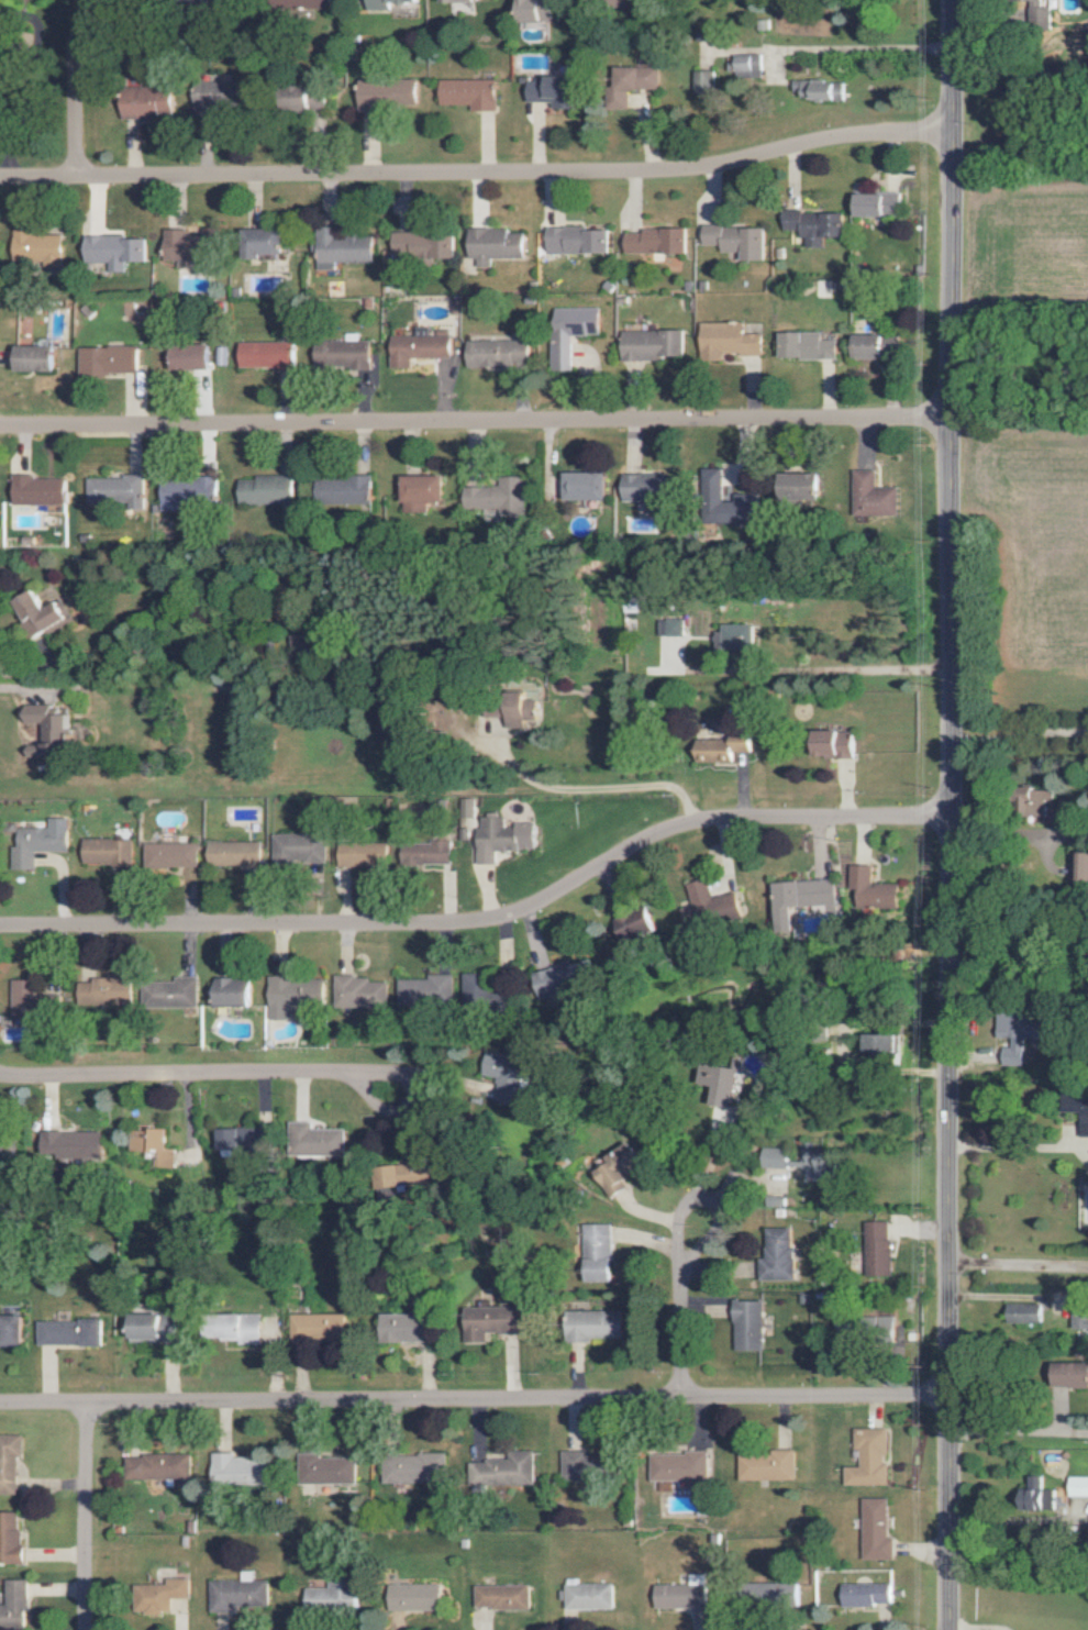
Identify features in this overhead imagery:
building: (466, 0)
building: (314, 3)
building: (389, 3)
building: (536, 10)
building: (1035, 12)
building: (745, 65)
building: (639, 78)
building: (703, 84)
road: (76, 86)
building: (388, 89)
building: (821, 89)
building: (553, 90)
building: (471, 92)
building: (217, 98)
building: (621, 100)
building: (147, 102)
road: (478, 175)
building: (880, 204)
building: (815, 224)
building: (579, 240)
building: (737, 240)
building: (657, 241)
building: (266, 242)
building: (426, 243)
building: (192, 244)
building: (499, 244)
building: (37, 245)
building: (346, 248)
building: (115, 251)
building: (575, 332)
building: (731, 341)
building: (656, 344)
building: (809, 345)
building: (879, 345)
building: (423, 346)
building: (502, 353)
building: (345, 354)
building: (268, 355)
building: (195, 357)
building: (40, 358)
building: (111, 359)
road: (476, 423)
building: (736, 474)
building: (713, 478)
building: (588, 486)
building: (803, 486)
building: (655, 487)
building: (41, 490)
building: (118, 490)
building: (267, 490)
building: (345, 490)
building: (424, 491)
building: (190, 492)
building: (874, 496)
building: (502, 499)
building: (742, 506)
building: (43, 616)
building: (670, 627)
building: (736, 637)
road: (808, 672)
road: (38, 686)
building: (523, 712)
building: (53, 729)
road: (1019, 731)
building: (837, 743)
building: (725, 747)
road: (585, 801)
road: (951, 814)
building: (501, 838)
building: (44, 840)
building: (298, 849)
building: (108, 851)
building: (428, 852)
building: (235, 853)
building: (171, 854)
building: (364, 854)
building: (1085, 867)
building: (874, 888)
road: (1019, 894)
building: (803, 897)
building: (708, 906)
road: (487, 922)
building: (640, 923)
building: (568, 977)
building: (477, 985)
building: (107, 990)
building: (430, 990)
building: (235, 991)
building: (362, 991)
building: (170, 993)
building: (297, 996)
building: (33, 999)
building: (882, 1043)
building: (1015, 1051)
road: (196, 1075)
building: (508, 1075)
building: (721, 1080)
building: (1085, 1128)
building: (319, 1140)
building: (236, 1141)
building: (7, 1143)
building: (74, 1143)
building: (154, 1145)
road: (1017, 1147)
building: (808, 1162)
building: (622, 1171)
building: (410, 1174)
building: (880, 1248)
building: (601, 1252)
building: (781, 1254)
road: (1019, 1266)
road: (682, 1285)
building: (1028, 1312)
building: (1080, 1312)
building: (492, 1321)
building: (157, 1324)
building: (597, 1324)
building: (752, 1324)
building: (238, 1327)
building: (321, 1327)
building: (410, 1327)
building: (12, 1329)
building: (73, 1332)
building: (1073, 1373)
road: (475, 1401)
road: (1020, 1429)
building: (871, 1457)
building: (10, 1462)
building: (769, 1465)
building: (160, 1466)
building: (585, 1466)
building: (681, 1466)
building: (417, 1467)
building: (244, 1468)
building: (330, 1468)
building: (506, 1470)
building: (1078, 1486)
building: (1040, 1495)
road: (82, 1518)
road: (1013, 1521)
building: (877, 1530)
building: (11, 1539)
building: (780, 1592)
building: (169, 1594)
building: (241, 1594)
building: (867, 1594)
building: (336, 1596)
building: (506, 1596)
building: (592, 1596)
building: (684, 1596)
building: (419, 1597)
building: (16, 1606)

